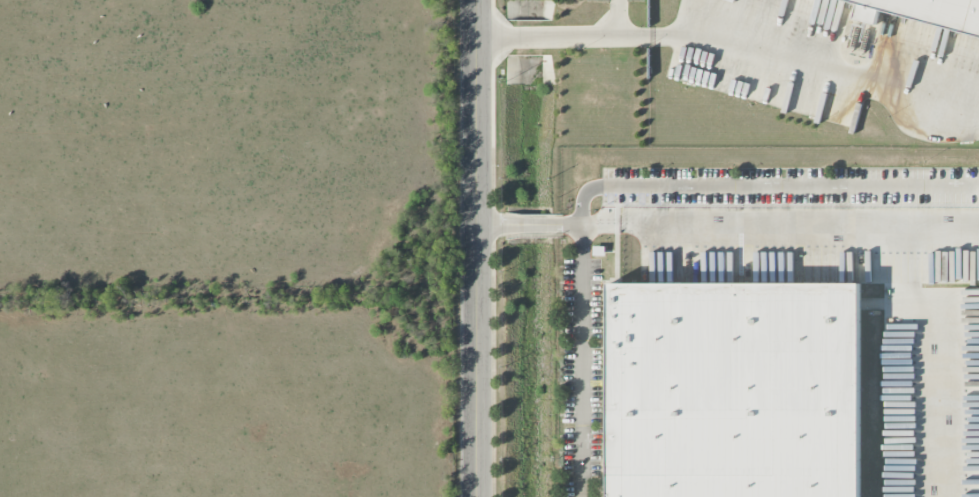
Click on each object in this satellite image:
building: (925, 12)
road: (617, 19)
road: (563, 39)
road: (813, 63)
road: (765, 187)
road: (799, 222)
road: (591, 224)
road: (520, 225)
road: (477, 248)
building: (598, 251)
road: (582, 361)
building: (734, 390)

